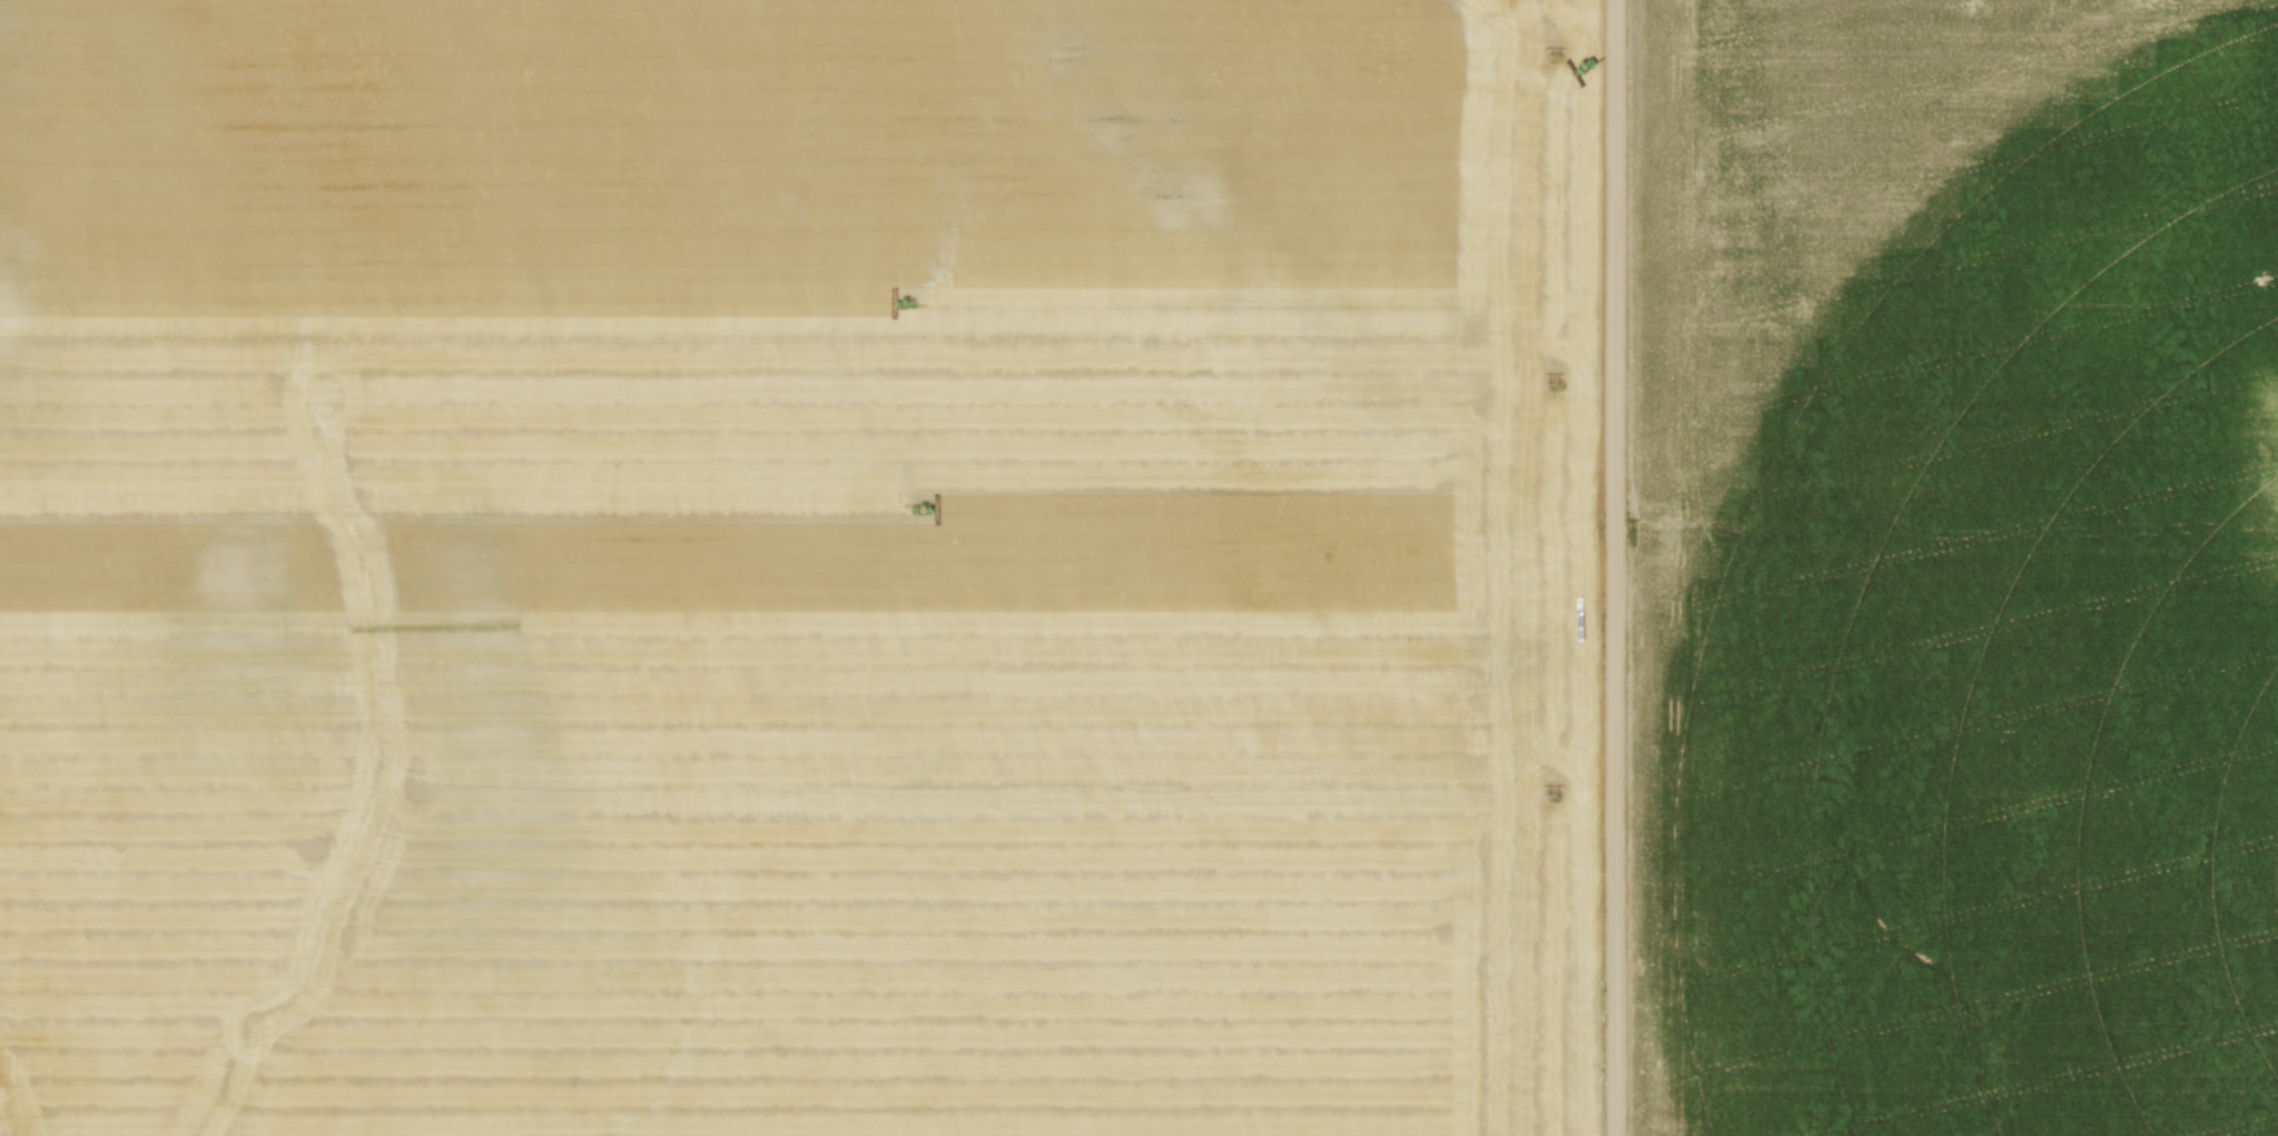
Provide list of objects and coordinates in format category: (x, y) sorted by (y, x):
power tower: (1555, 57)
power tower: (1552, 385)
crop: (797, 567)
road: (1616, 567)
crop: (1961, 569)
power tower: (1549, 794)

